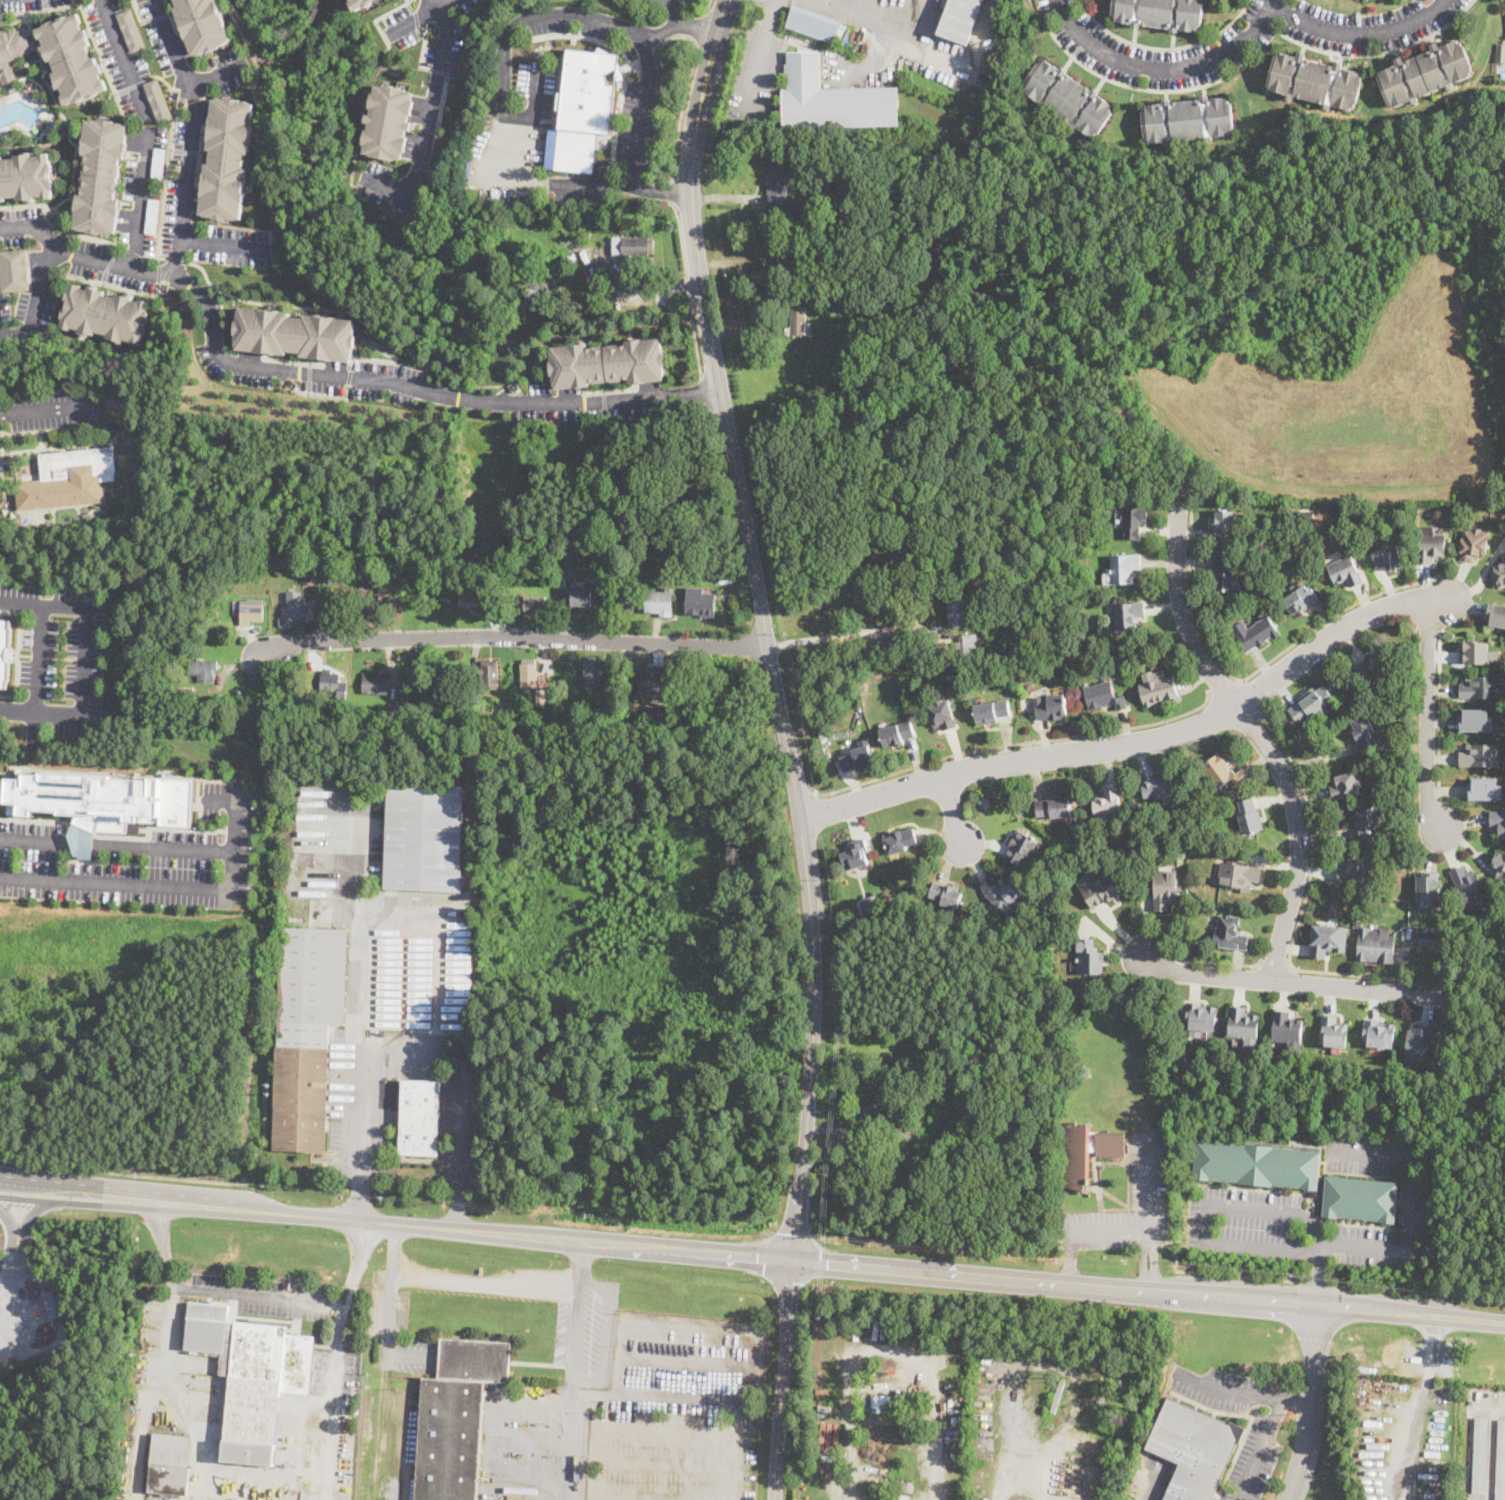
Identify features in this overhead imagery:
parking lot: (420, 0)
road: (811, 0)
parking lot: (670, 2)
building: (360, 3)
road: (743, 3)
parking lot: (30, 4)
parking lot: (467, 4)
road: (438, 6)
road: (708, 6)
road: (230, 8)
road: (676, 8)
road: (883, 9)
road: (41, 10)
building: (1160, 13)
road: (563, 14)
building: (960, 19)
road: (412, 20)
parking lot: (572, 21)
building: (202, 23)
road: (685, 23)
parking lot: (1365, 24)
building: (810, 25)
road: (700, 29)
building: (131, 30)
road: (661, 33)
road: (1359, 35)
parking lot: (448, 38)
road: (299, 43)
building: (856, 43)
parking lot: (1094, 43)
parking lot: (1209, 51)
building: (12, 53)
building: (1500, 53)
building: (67, 57)
road: (761, 59)
road: (103, 61)
road: (1168, 66)
parking lot: (230, 69)
parking lot: (756, 69)
road: (216, 73)
building: (1424, 74)
road: (723, 76)
building: (1315, 81)
road: (130, 86)
parking lot: (538, 88)
building: (829, 98)
building: (1067, 98)
building: (158, 100)
building: (582, 110)
road: (431, 112)
road: (680, 112)
parking lot: (641, 113)
building: (1187, 120)
building: (388, 121)
road: (145, 131)
road: (189, 137)
building: (227, 157)
building: (158, 164)
building: (24, 175)
building: (96, 176)
parking lot: (375, 181)
building: (778, 184)
road: (387, 186)
road: (592, 186)
parking lot: (584, 188)
road: (662, 192)
road: (673, 192)
building: (826, 194)
road: (26, 203)
building: (152, 215)
building: (786, 220)
parking lot: (17, 224)
road: (82, 234)
road: (681, 241)
road: (220, 243)
parking lot: (231, 246)
building: (632, 246)
road: (133, 252)
road: (154, 257)
road: (176, 259)
building: (571, 260)
building: (13, 270)
road: (688, 286)
building: (537, 289)
building: (781, 289)
road: (36, 300)
parking lot: (30, 308)
building: (105, 313)
building: (798, 321)
building: (294, 333)
road: (694, 335)
building: (603, 362)
road: (437, 371)
parking lot: (318, 375)
road: (328, 377)
road: (704, 390)
parking lot: (591, 404)
parking lot: (54, 407)
road: (50, 409)
road: (709, 415)
road: (50, 430)
building: (95, 440)
building: (129, 474)
building: (68, 479)
building: (652, 479)
building: (682, 501)
building: (653, 506)
building: (1503, 508)
building: (1306, 514)
building: (869, 516)
building: (879, 520)
building: (1133, 520)
building: (1223, 526)
building: (891, 537)
building: (1472, 544)
building: (1430, 547)
building: (882, 551)
building: (1388, 557)
building: (1124, 569)
building: (1497, 571)
building: (1344, 572)
building: (1222, 574)
building: (711, 577)
building: (308, 578)
building: (564, 578)
road: (1461, 580)
building: (398, 581)
building: (368, 597)
building: (581, 598)
building: (475, 600)
building: (1302, 600)
building: (623, 601)
road: (1442, 601)
building: (658, 602)
building: (698, 604)
road: (1439, 604)
building: (534, 605)
building: (293, 610)
building: (250, 611)
building: (955, 611)
building: (1495, 614)
road: (87, 616)
building: (1127, 616)
road: (765, 628)
building: (218, 633)
building: (1255, 633)
road: (854, 635)
road: (512, 639)
building: (969, 644)
road: (18, 645)
building: (4, 650)
building: (1476, 651)
parking lot: (59, 654)
road: (42, 658)
building: (987, 659)
building: (1372, 667)
road: (1258, 668)
building: (202, 669)
building: (591, 672)
building: (528, 673)
building: (489, 674)
building: (649, 680)
building: (329, 681)
building: (375, 685)
building: (1481, 685)
road: (1221, 686)
building: (1158, 691)
road: (1252, 694)
road: (7, 695)
building: (1103, 697)
building: (538, 700)
building: (1307, 705)
building: (1345, 706)
building: (1051, 708)
building: (991, 712)
building: (574, 713)
road: (1428, 713)
road: (44, 714)
building: (942, 715)
building: (389, 716)
road: (1439, 716)
building: (1476, 721)
park: (1408, 728)
building: (1364, 732)
building: (896, 734)
road: (1260, 739)
road: (1016, 743)
road: (1121, 749)
building: (1480, 756)
building: (856, 758)
building: (1221, 773)
building: (1346, 787)
building: (1486, 787)
building: (1158, 789)
building: (102, 800)
building: (984, 802)
building: (1108, 804)
building: (1054, 807)
road: (238, 808)
road: (954, 813)
building: (1249, 817)
road: (30, 819)
building: (1367, 822)
building: (1497, 822)
building: (424, 837)
building: (1076, 838)
road: (118, 842)
building: (899, 842)
building: (1020, 848)
building: (855, 854)
parking lot: (135, 860)
building: (1499, 865)
building: (1355, 870)
building: (1043, 871)
building: (1239, 876)
road: (137, 885)
building: (1430, 888)
building: (1468, 888)
building: (1099, 889)
building: (1165, 890)
building: (946, 895)
building: (1004, 895)
building: (870, 905)
road: (1303, 905)
building: (1230, 934)
building: (1429, 939)
building: (1327, 940)
building: (1375, 946)
building: (1089, 958)
road: (1275, 959)
road: (1218, 961)
road: (1290, 982)
road: (357, 1002)
building: (1199, 1019)
building: (1242, 1024)
building: (1286, 1028)
building: (1335, 1031)
building: (307, 1033)
building: (1378, 1033)
building: (1419, 1040)
building: (881, 1045)
building: (1085, 1072)
park: (1111, 1074)
road: (460, 1095)
building: (877, 1114)
building: (942, 1115)
building: (419, 1118)
building: (1257, 1164)
building: (1076, 1171)
parking lot: (1148, 1171)
road: (122, 1174)
road: (67, 1184)
building: (1360, 1199)
parking lot: (1245, 1201)
road: (65, 1202)
road: (145, 1206)
road: (277, 1215)
road: (25, 1221)
road: (1149, 1221)
road: (424, 1226)
road: (10, 1227)
road: (793, 1233)
road: (622, 1245)
road: (1326, 1248)
road: (1321, 1253)
road: (765, 1256)
road: (581, 1258)
road: (1069, 1258)
road: (1151, 1259)
road: (817, 1260)
traffic signals: (793, 1262)
road: (12, 1268)
road: (1335, 1268)
road: (1238, 1275)
road: (487, 1281)
road: (789, 1281)
road: (1317, 1282)
road: (1390, 1289)
road: (1149, 1292)
road: (261, 1295)
building: (55, 1303)
road: (390, 1312)
road: (15, 1317)
road: (59, 1319)
parking lot: (395, 1322)
parking lot: (584, 1332)
road: (726, 1333)
road: (887, 1347)
road: (678, 1361)
building: (812, 1375)
building: (251, 1376)
road: (781, 1380)
road: (596, 1381)
parking lot: (1224, 1389)
building: (823, 1390)
road: (1243, 1392)
road: (652, 1399)
building: (880, 1403)
road: (1310, 1404)
road: (1420, 1409)
parking lot: (677, 1410)
building: (456, 1418)
building: (809, 1420)
building: (957, 1420)
road: (663, 1424)
road: (1469, 1436)
road: (569, 1439)
road: (1002, 1443)
road: (594, 1448)
road: (1261, 1448)
building: (1192, 1450)
building: (1480, 1455)
parking lot: (1254, 1460)
road: (662, 1462)
building: (805, 1463)
building: (1501, 1463)
building: (169, 1464)
road: (249, 1469)
building: (902, 1484)
road: (662, 1495)
building: (900, 1496)
building: (892, 1499)

